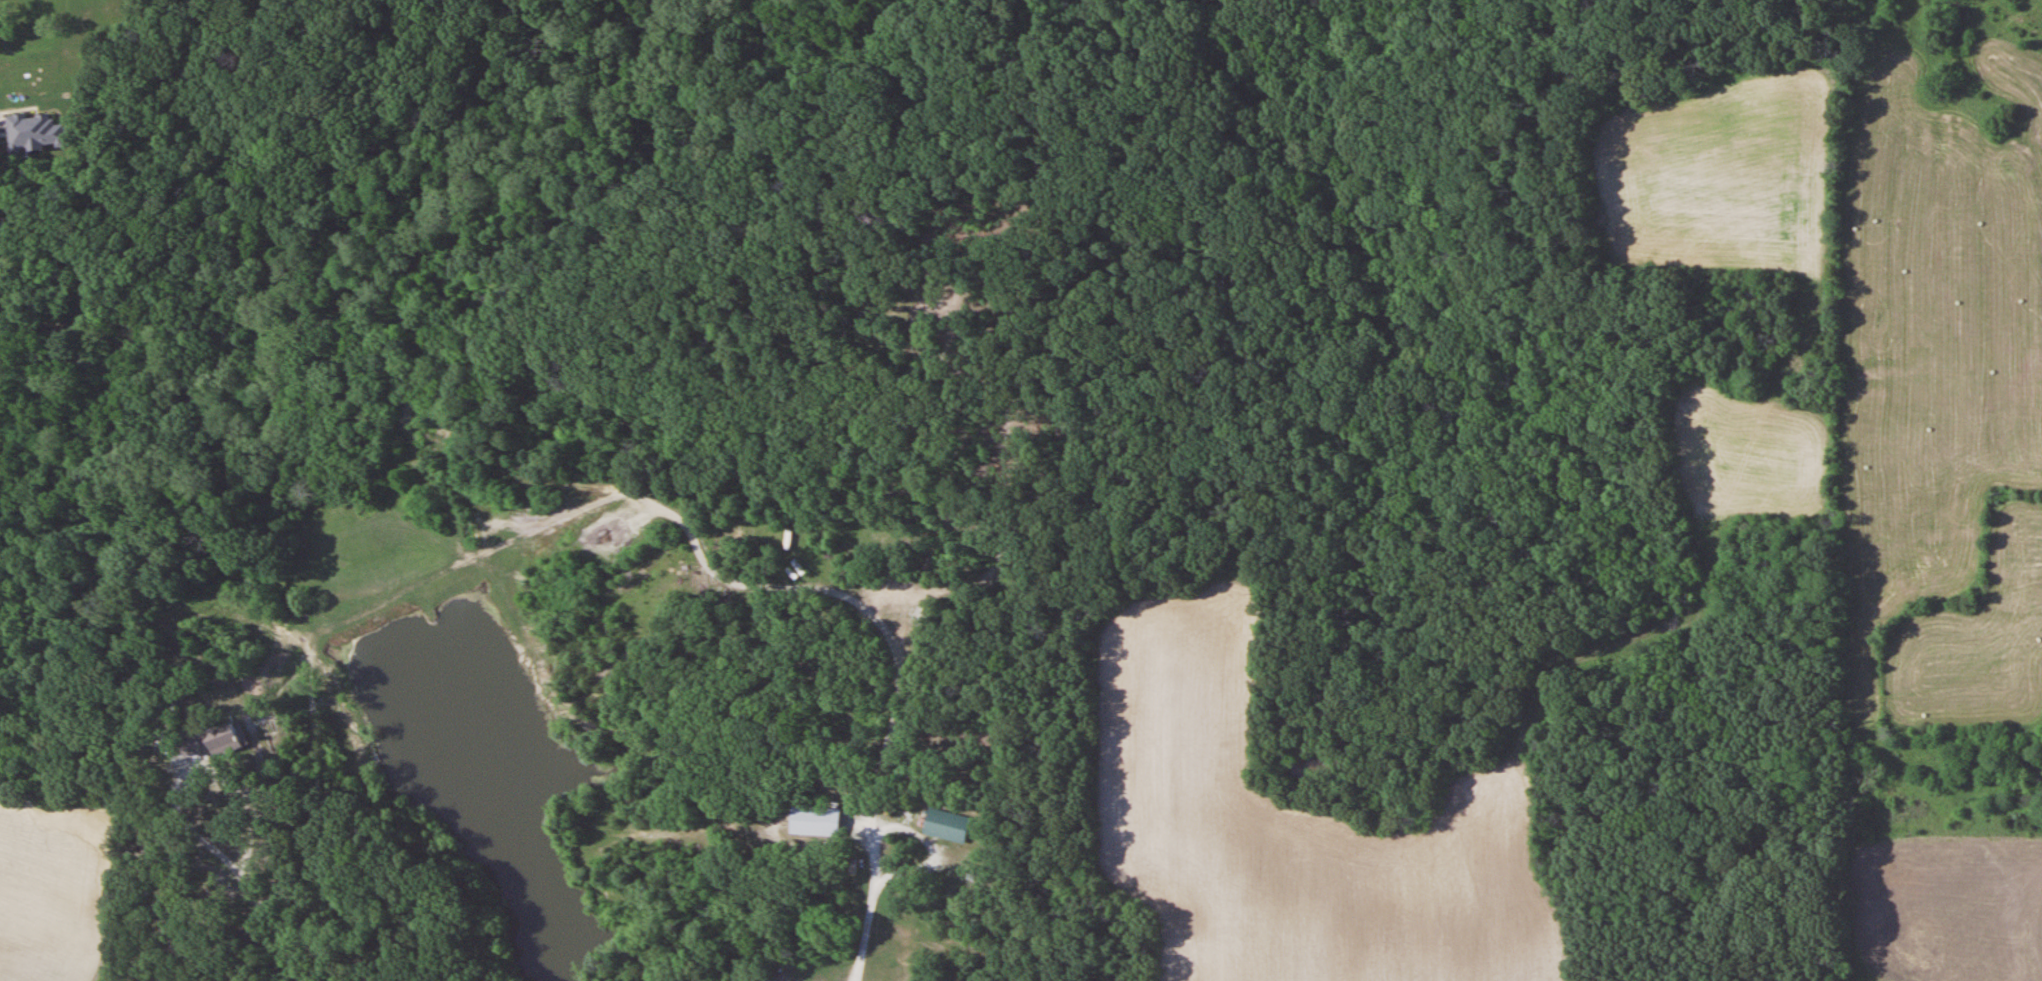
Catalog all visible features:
building: (38, 131)
road: (894, 699)
building: (221, 739)
building: (190, 744)
road: (196, 781)
building: (819, 821)
building: (950, 825)
road: (867, 923)
road: (286, 931)

